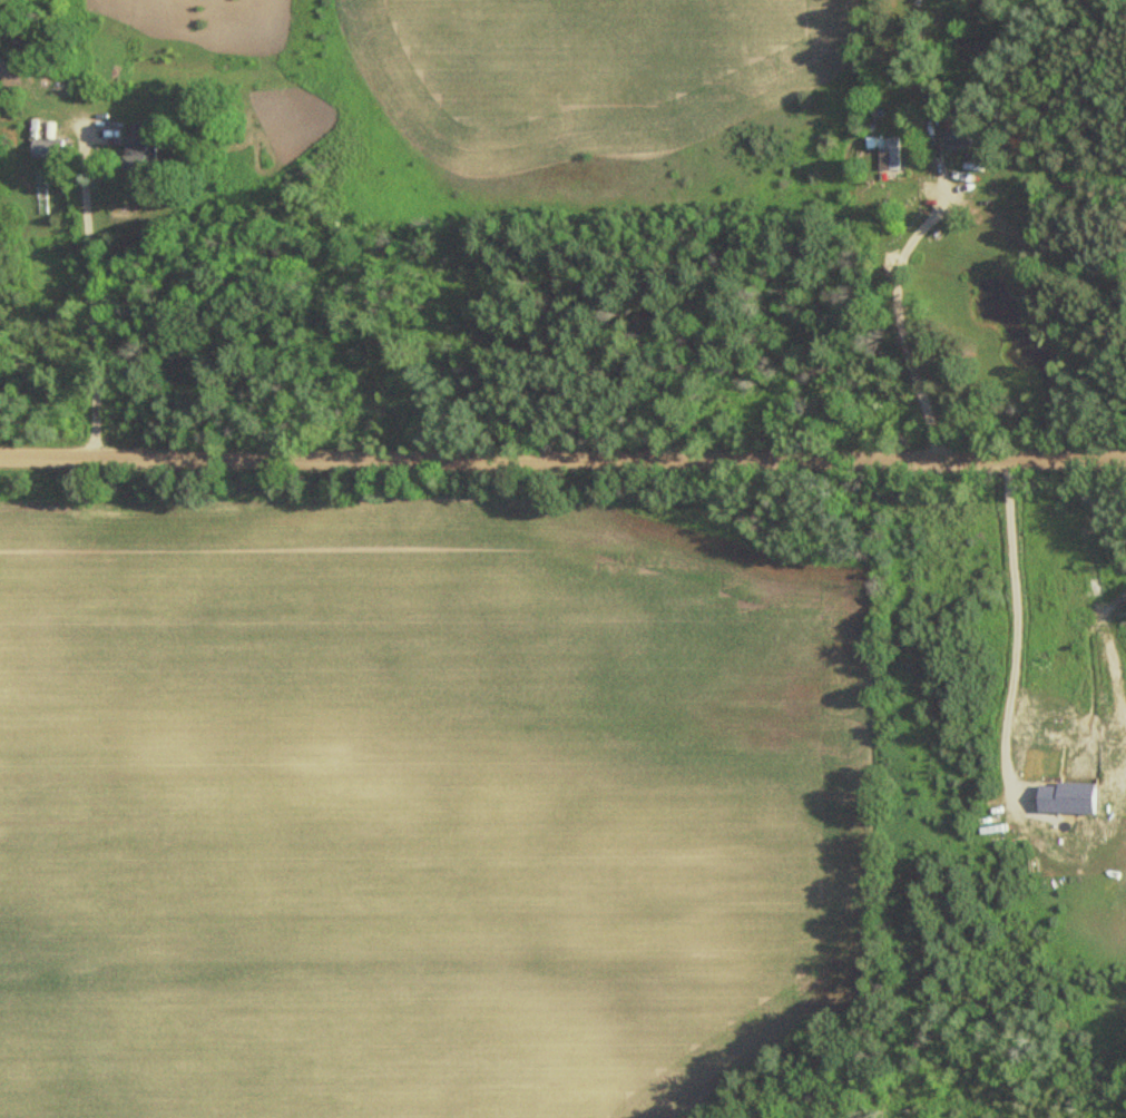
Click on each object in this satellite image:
building: (45, 148)
building: (890, 153)
road: (99, 283)
road: (895, 315)
road: (517, 452)
road: (1080, 460)
road: (1024, 631)

